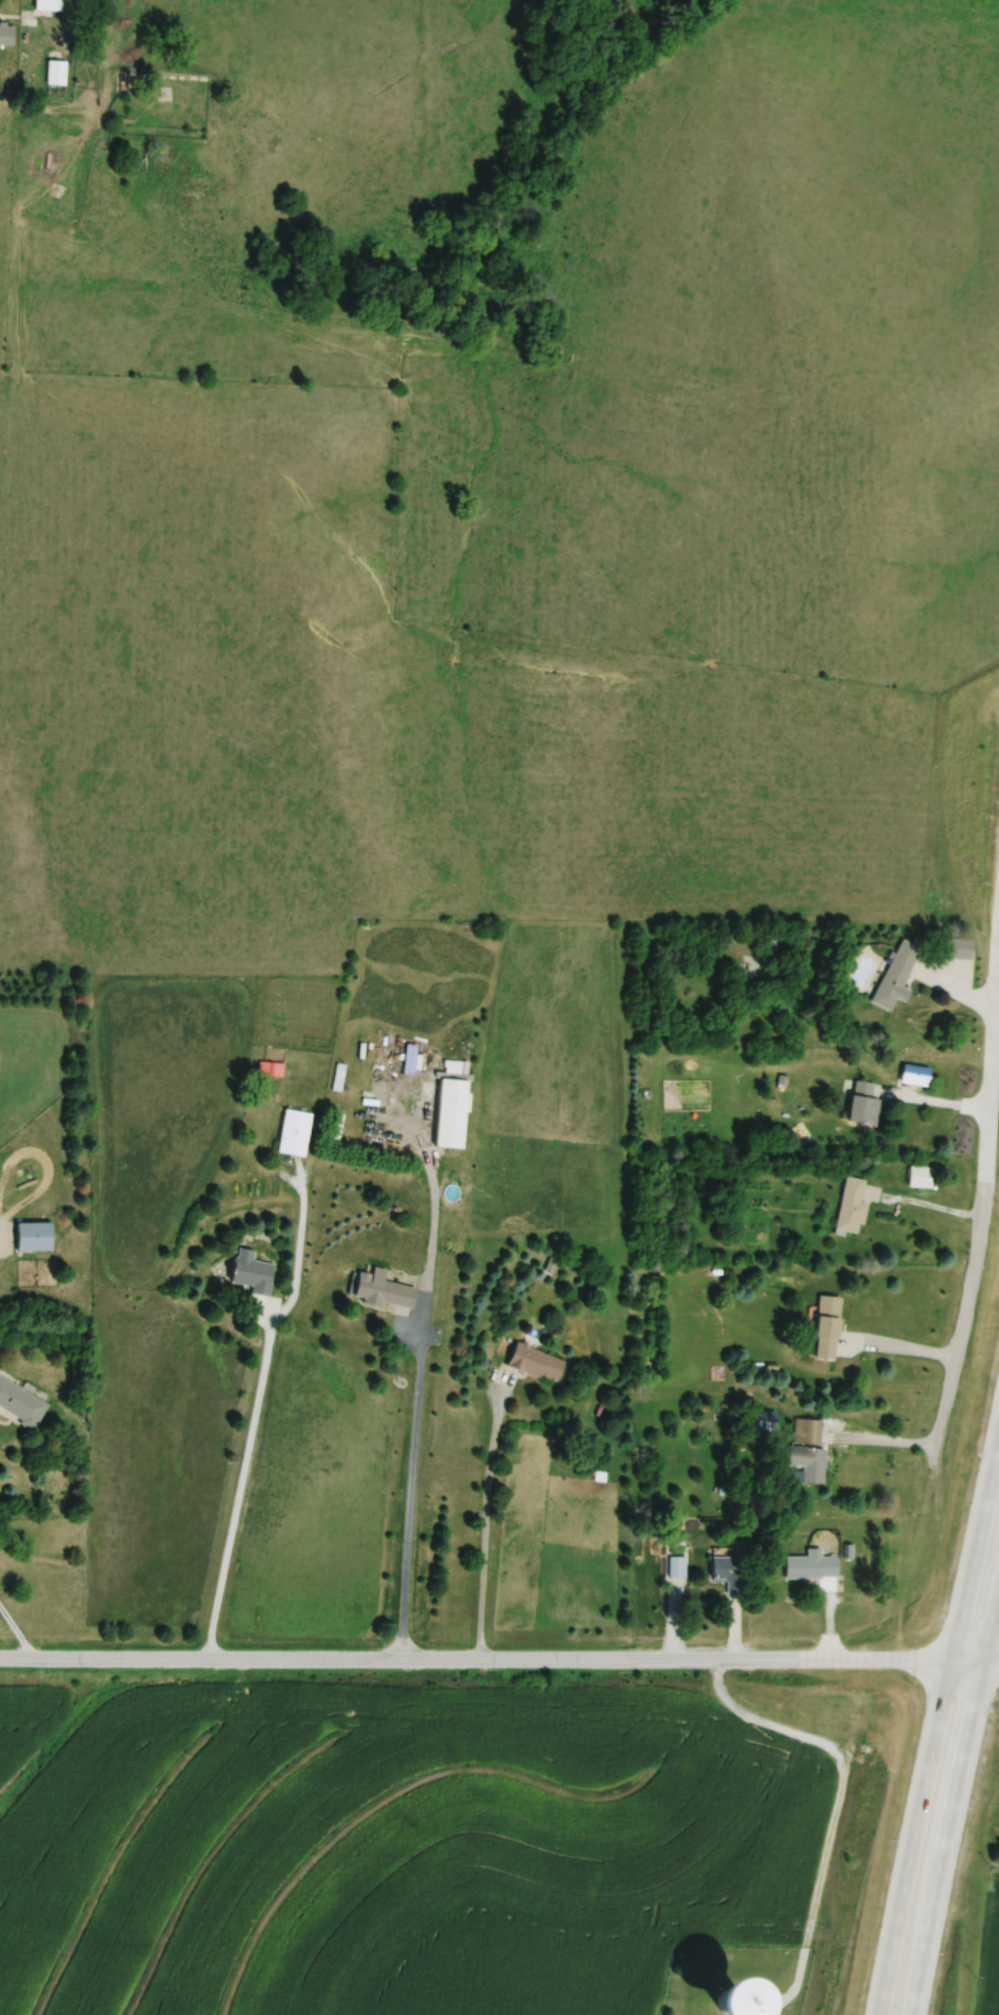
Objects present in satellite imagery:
building: (47, 3)
building: (7, 35)
building: (960, 949)
building: (898, 976)
building: (273, 1069)
building: (918, 1076)
building: (865, 1104)
road: (934, 1106)
building: (453, 1113)
building: (296, 1133)
building: (922, 1177)
building: (853, 1207)
building: (36, 1237)
building: (254, 1272)
road: (975, 1290)
building: (386, 1291)
building: (829, 1328)
road: (900, 1353)
building: (537, 1364)
building: (21, 1404)
building: (809, 1432)
road: (883, 1444)
building: (810, 1464)
road: (237, 1499)
road: (404, 1504)
road: (483, 1521)
building: (813, 1567)
building: (679, 1568)
building: (731, 1574)
road: (15, 1641)
road: (991, 1662)
road: (491, 1664)
road: (937, 1726)
road: (952, 1799)
road: (843, 1806)
water tower: (764, 1990)
building: (742, 2001)

